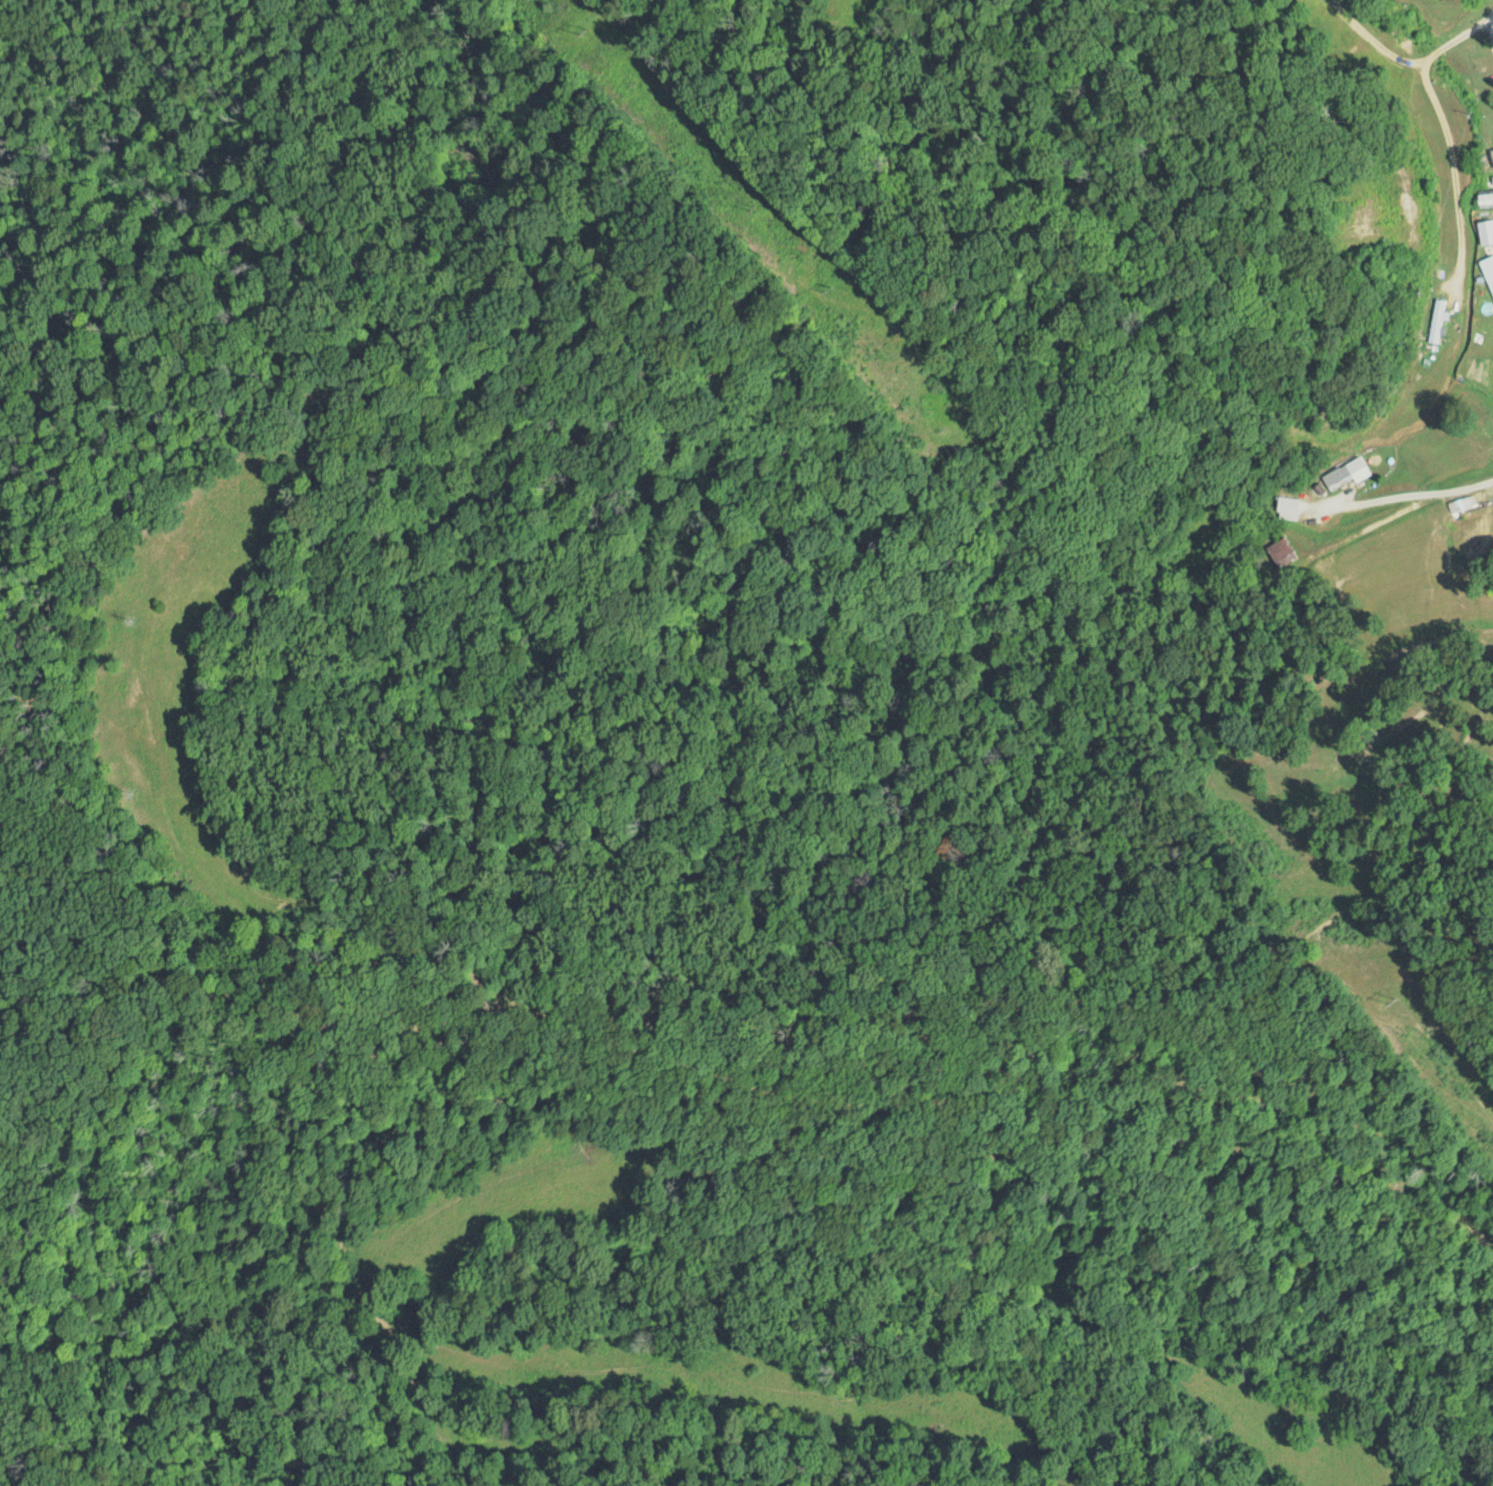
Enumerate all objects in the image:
building: (1491, 148)
building: (1485, 197)
building: (1435, 320)
building: (1347, 474)

